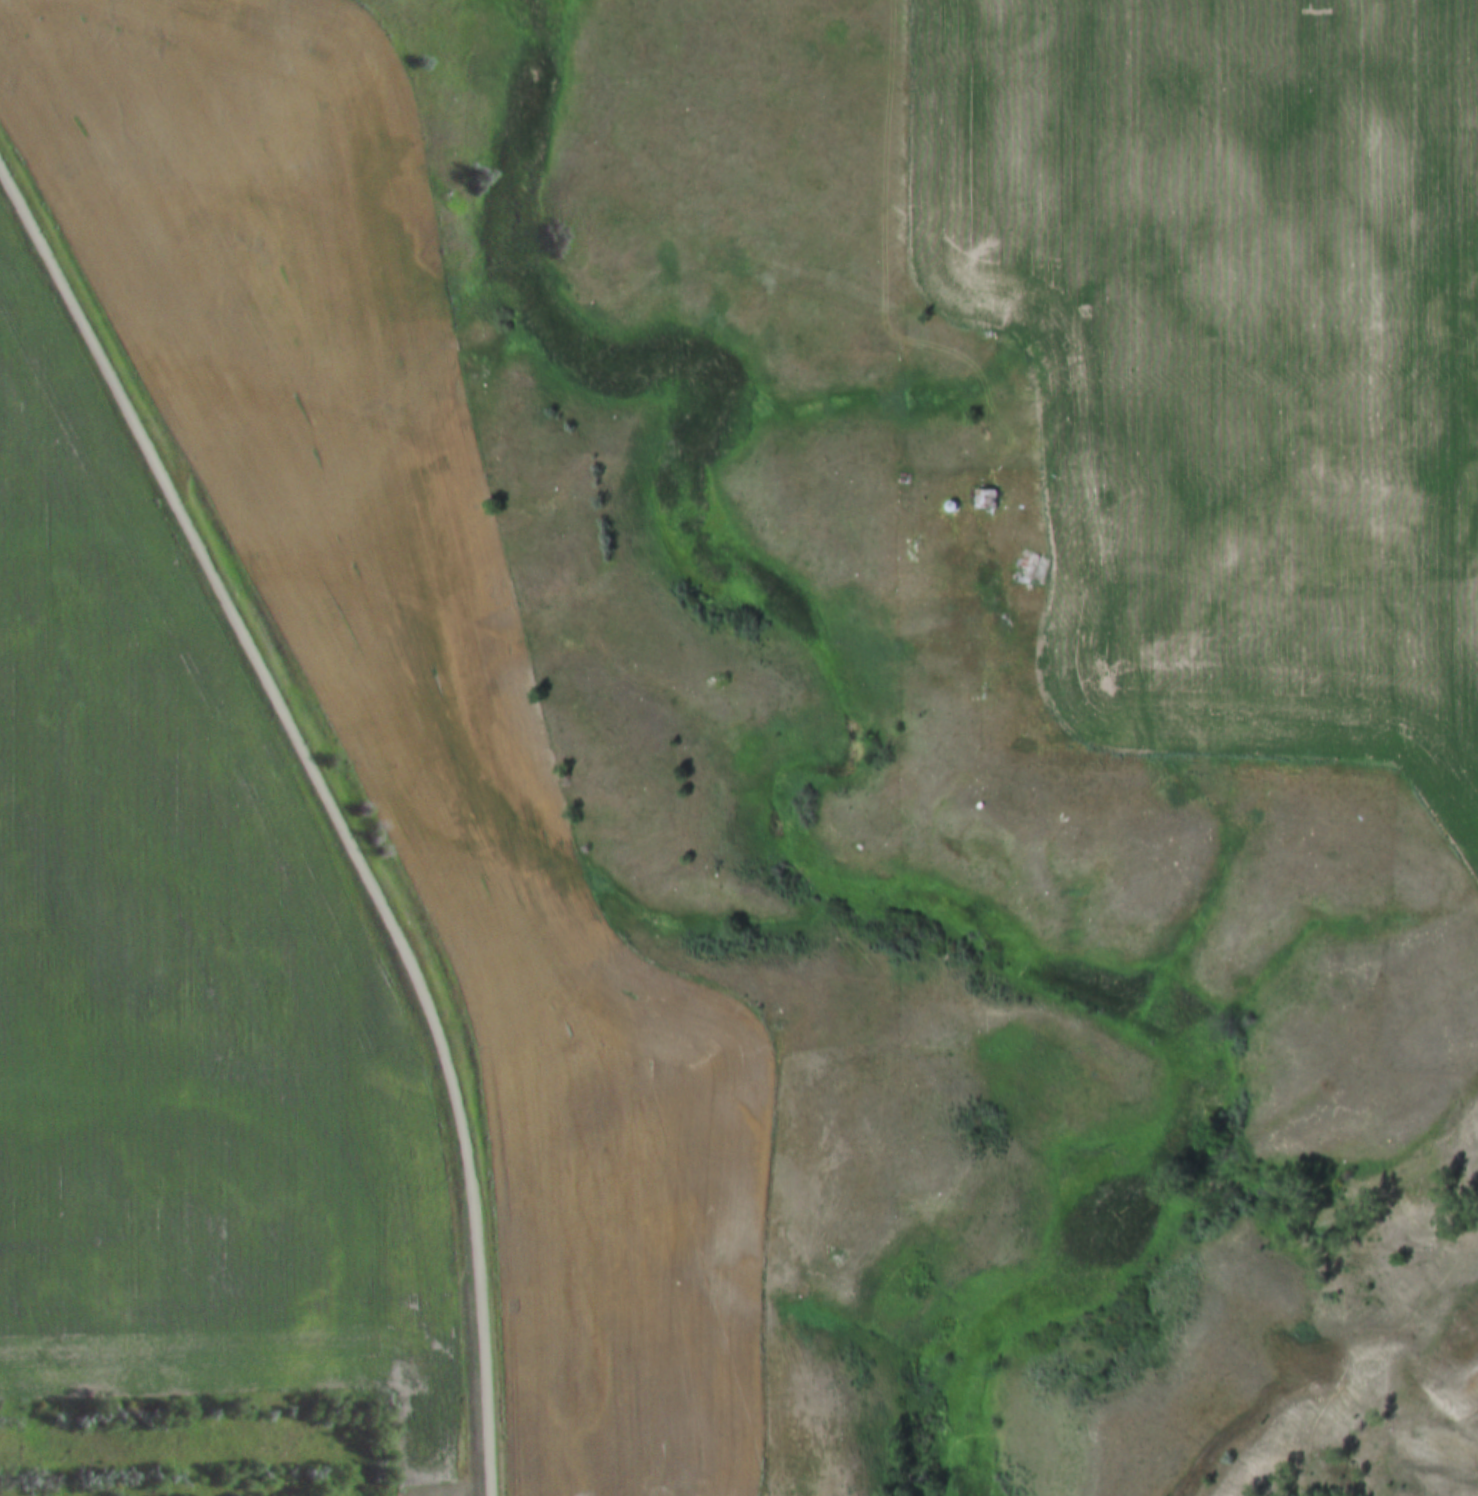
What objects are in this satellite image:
building: (988, 500)
building: (1027, 573)
road: (331, 807)

